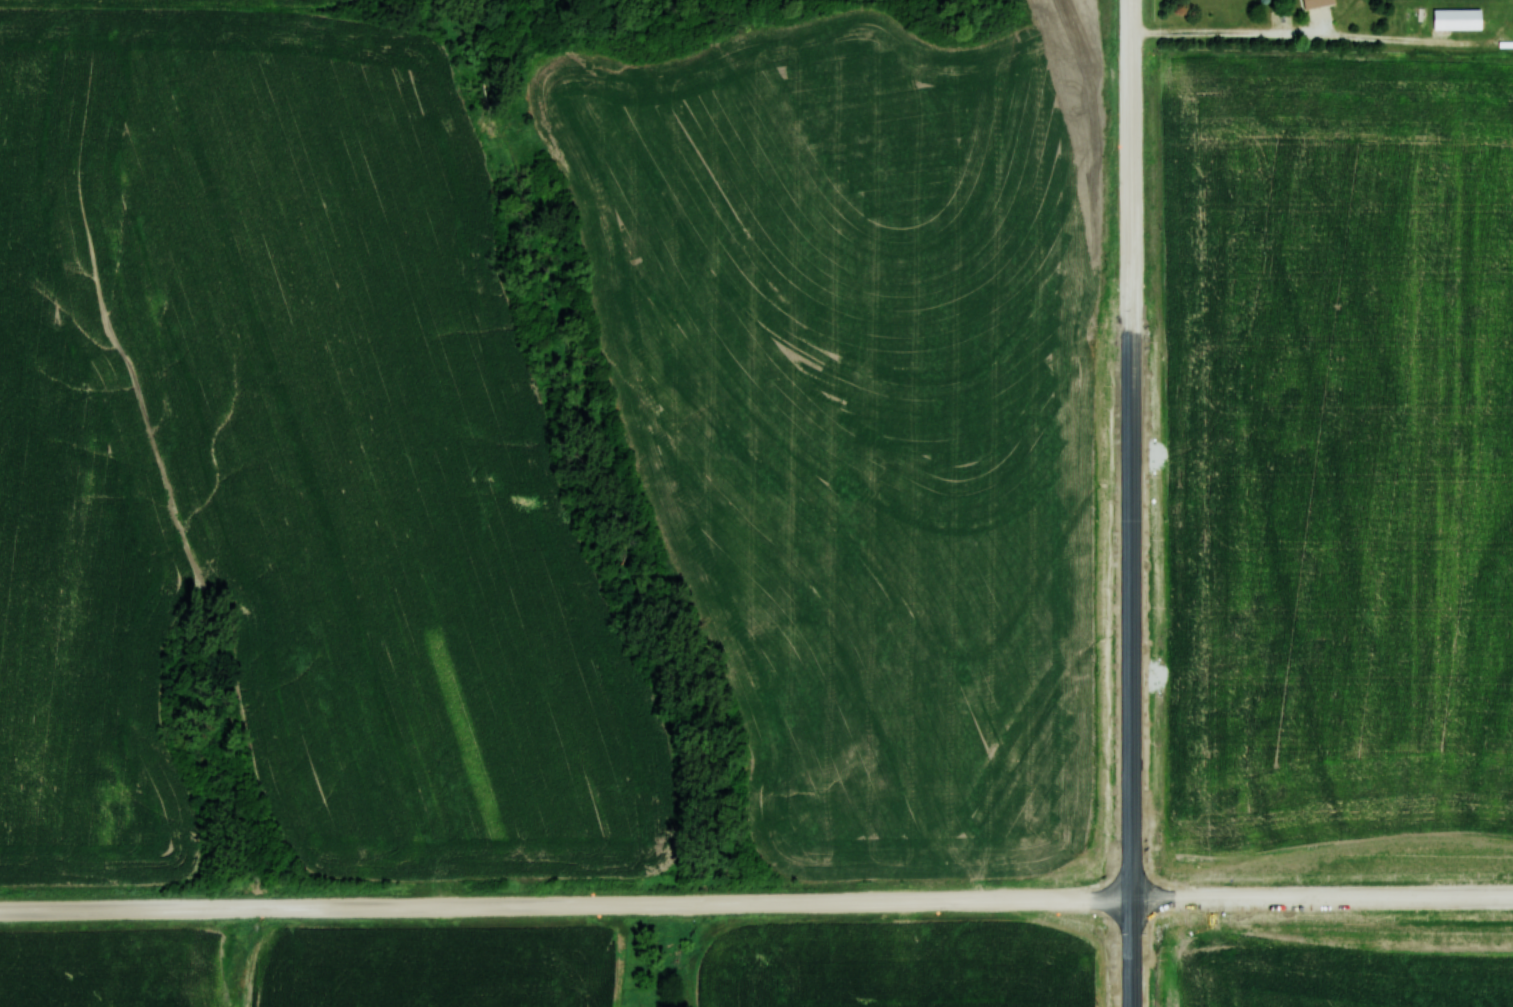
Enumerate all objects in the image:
building: (1317, 2)
crop: (129, 3)
road: (1127, 9)
building: (1457, 18)
road: (1224, 30)
road: (1131, 445)
crop: (1331, 468)
road: (1322, 897)
road: (566, 904)
road: (1132, 952)
crop: (897, 966)
crop: (114, 968)
crop: (434, 968)

